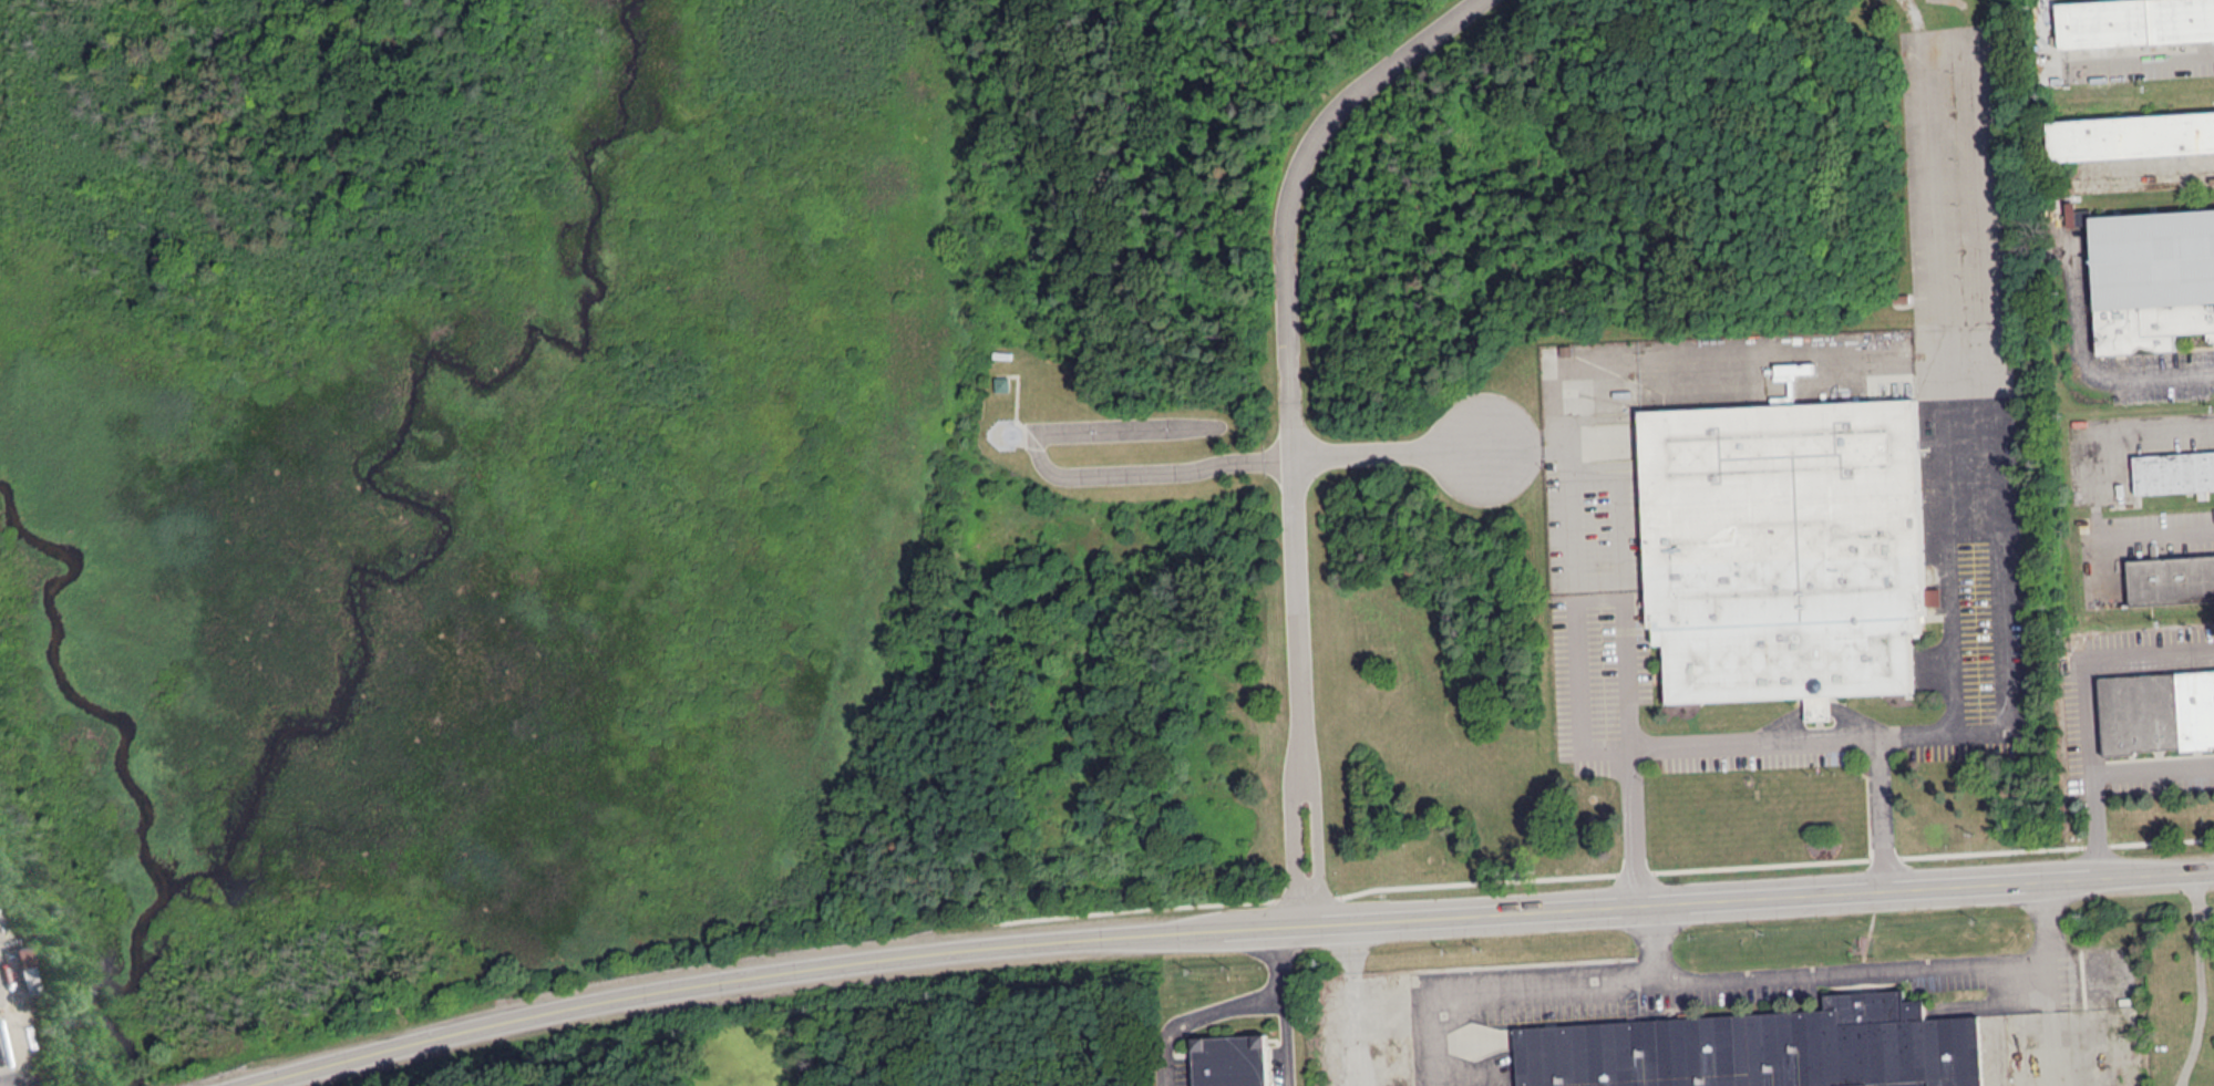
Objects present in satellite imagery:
building: (2134, 21)
road: (2144, 59)
building: (2132, 135)
building: (2151, 276)
road: (1294, 347)
road: (1788, 363)
road: (2086, 370)
building: (1001, 383)
road: (2133, 432)
road: (1388, 454)
building: (2174, 472)
road: (1075, 473)
road: (1995, 524)
road: (2132, 531)
building: (1785, 548)
building: (2171, 578)
road: (1946, 604)
road: (1578, 655)
road: (2086, 709)
building: (2158, 711)
road: (1752, 748)
road: (2151, 766)
road: (1321, 846)
road: (1291, 847)
road: (1222, 928)
road: (1286, 958)
building: (19, 969)
road: (1852, 972)
road: (2202, 979)
road: (2048, 983)
road: (1504, 984)
road: (1199, 1013)
park: (869, 1038)
road: (1290, 1041)
building: (1762, 1047)
building: (1230, 1059)

